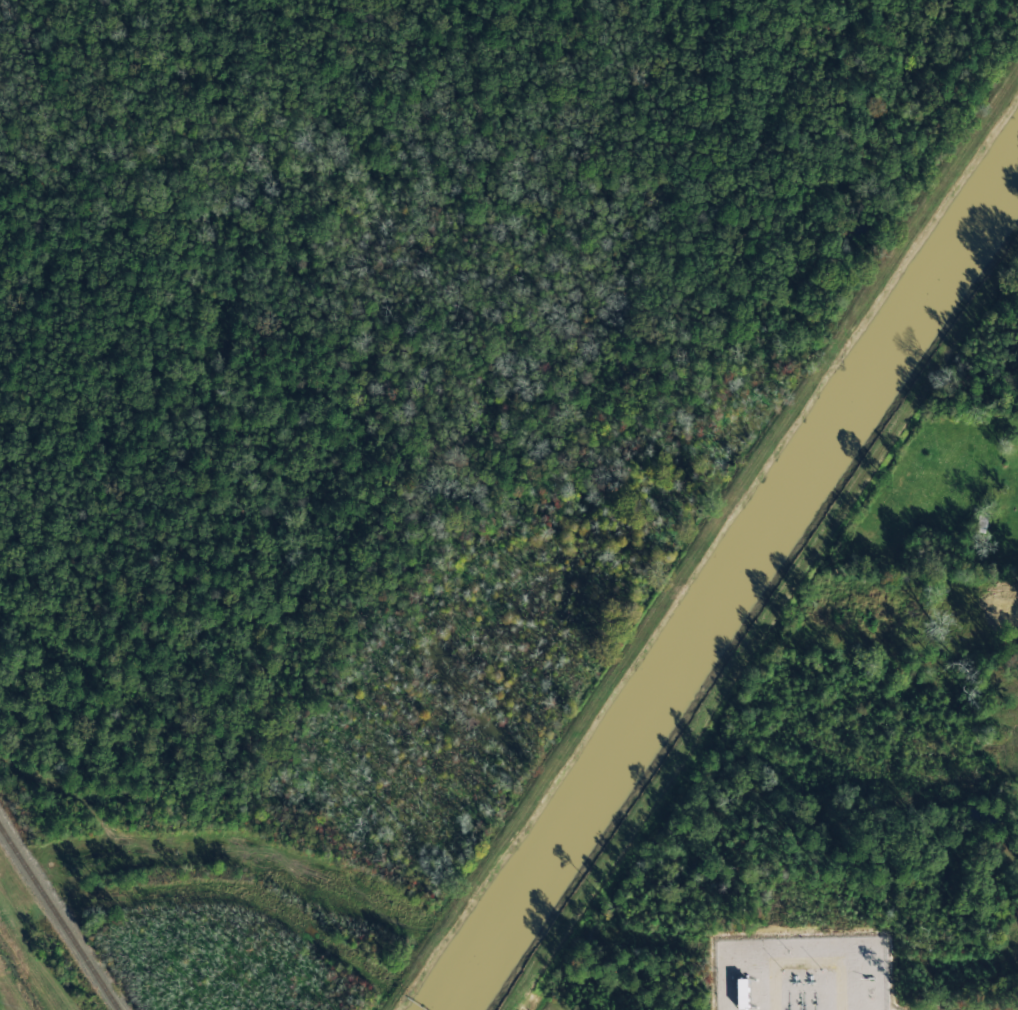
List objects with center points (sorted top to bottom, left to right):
railway: (58, 919)

